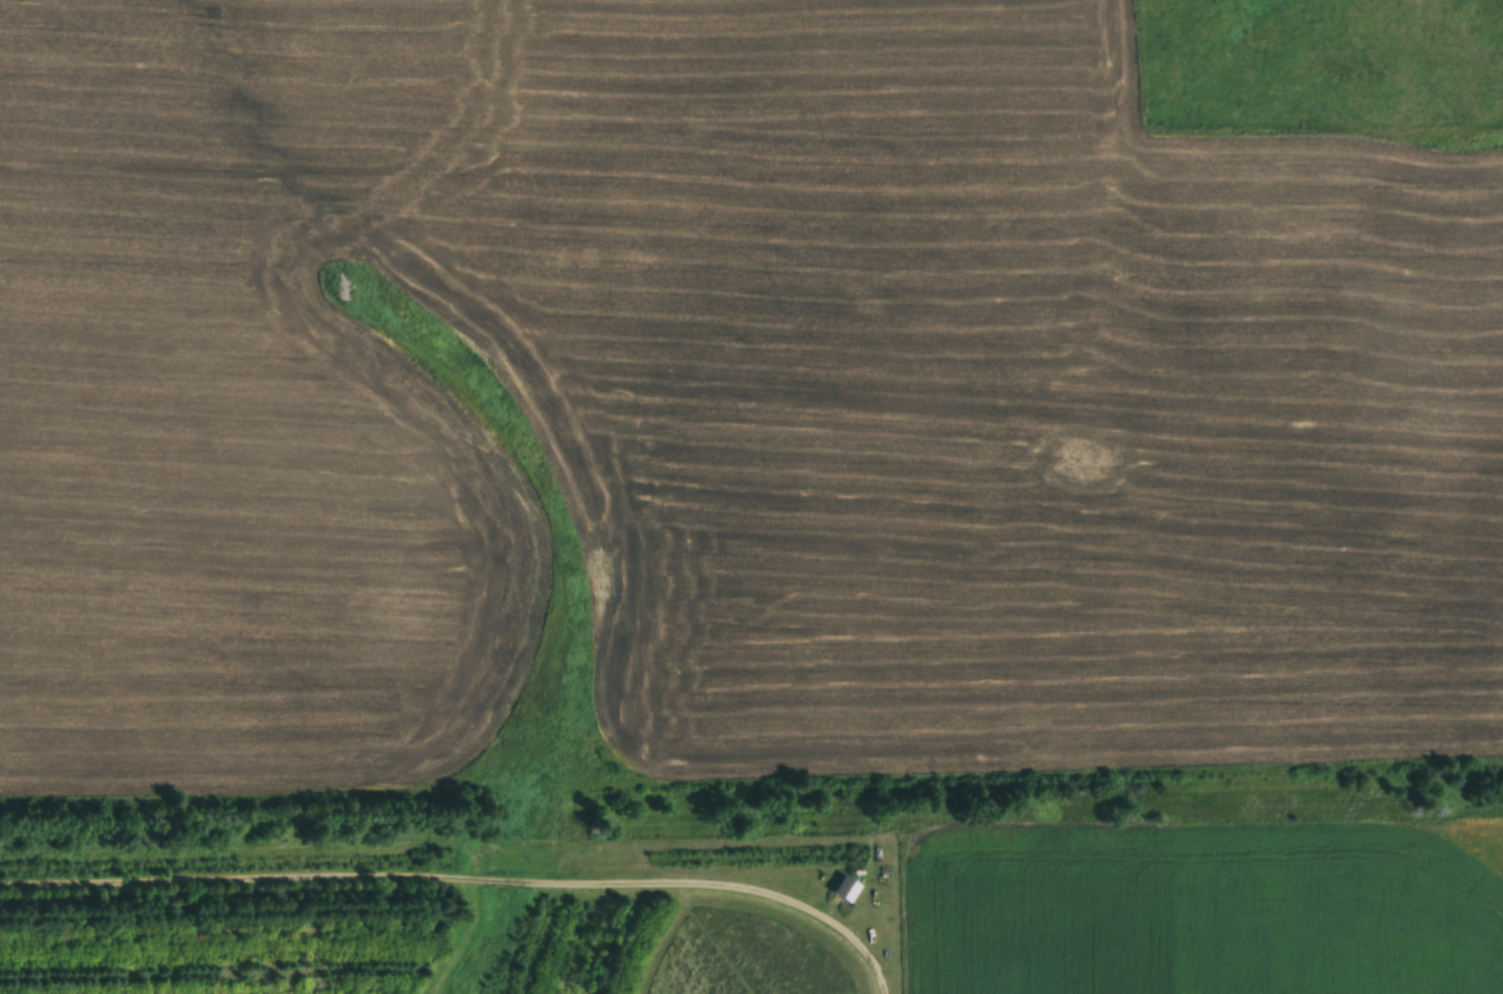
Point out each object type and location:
building: (846, 889)

